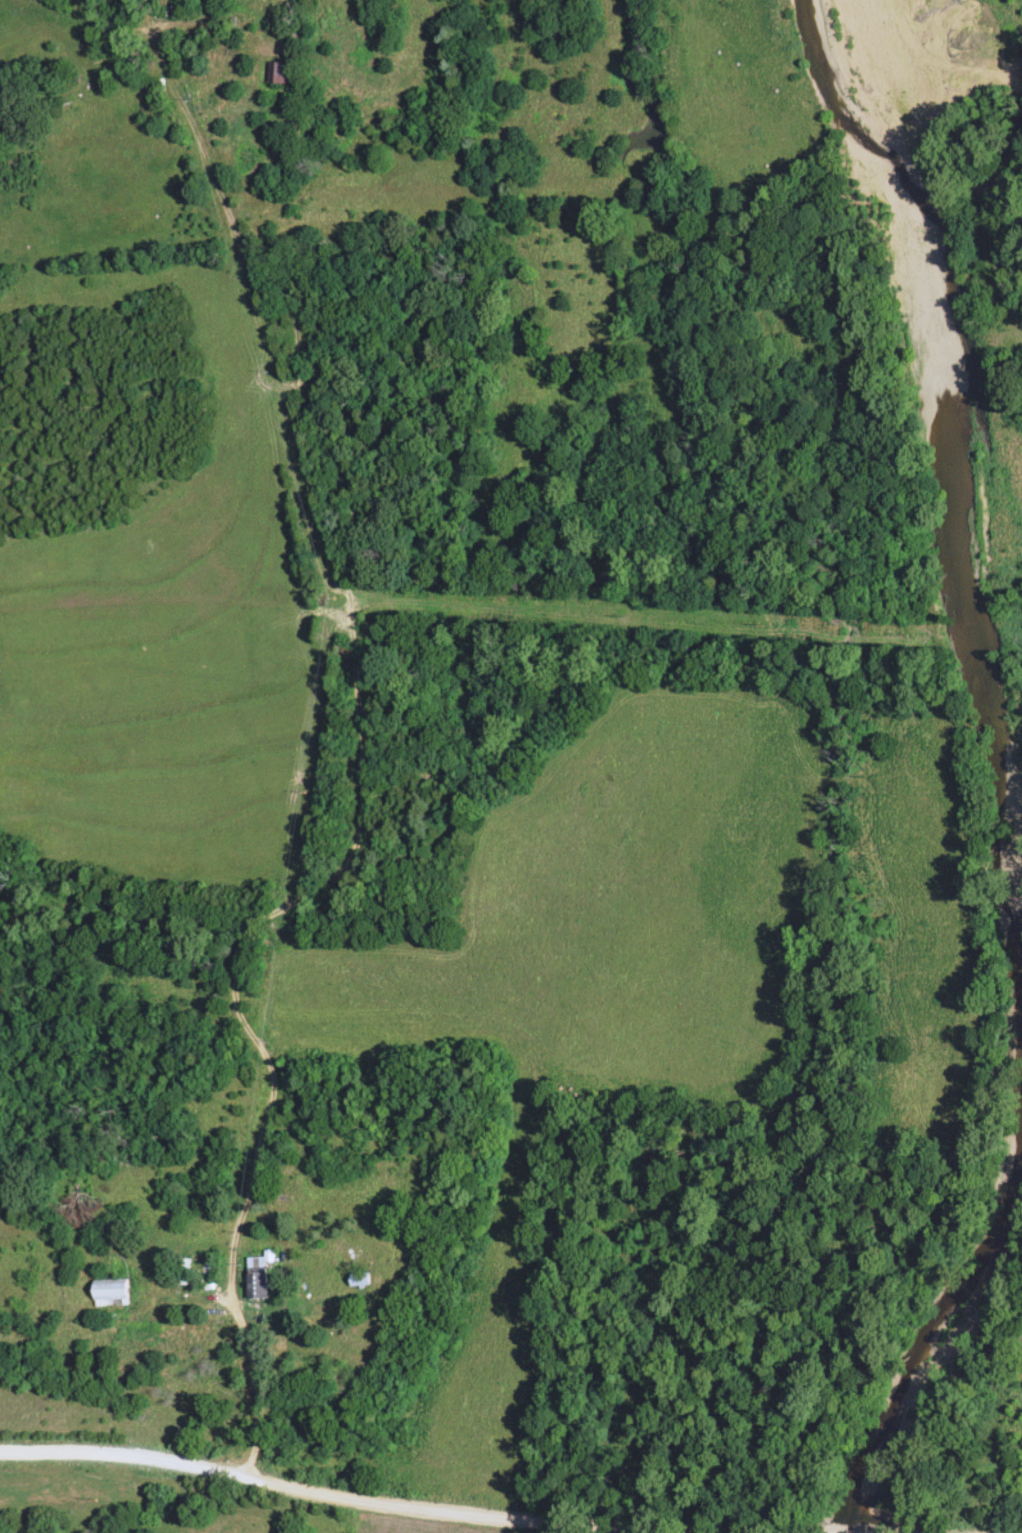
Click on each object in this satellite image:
building: (288, 73)
building: (182, 1272)
building: (365, 1281)
building: (115, 1293)
road: (259, 1388)
road: (137, 1460)
road: (536, 1514)

